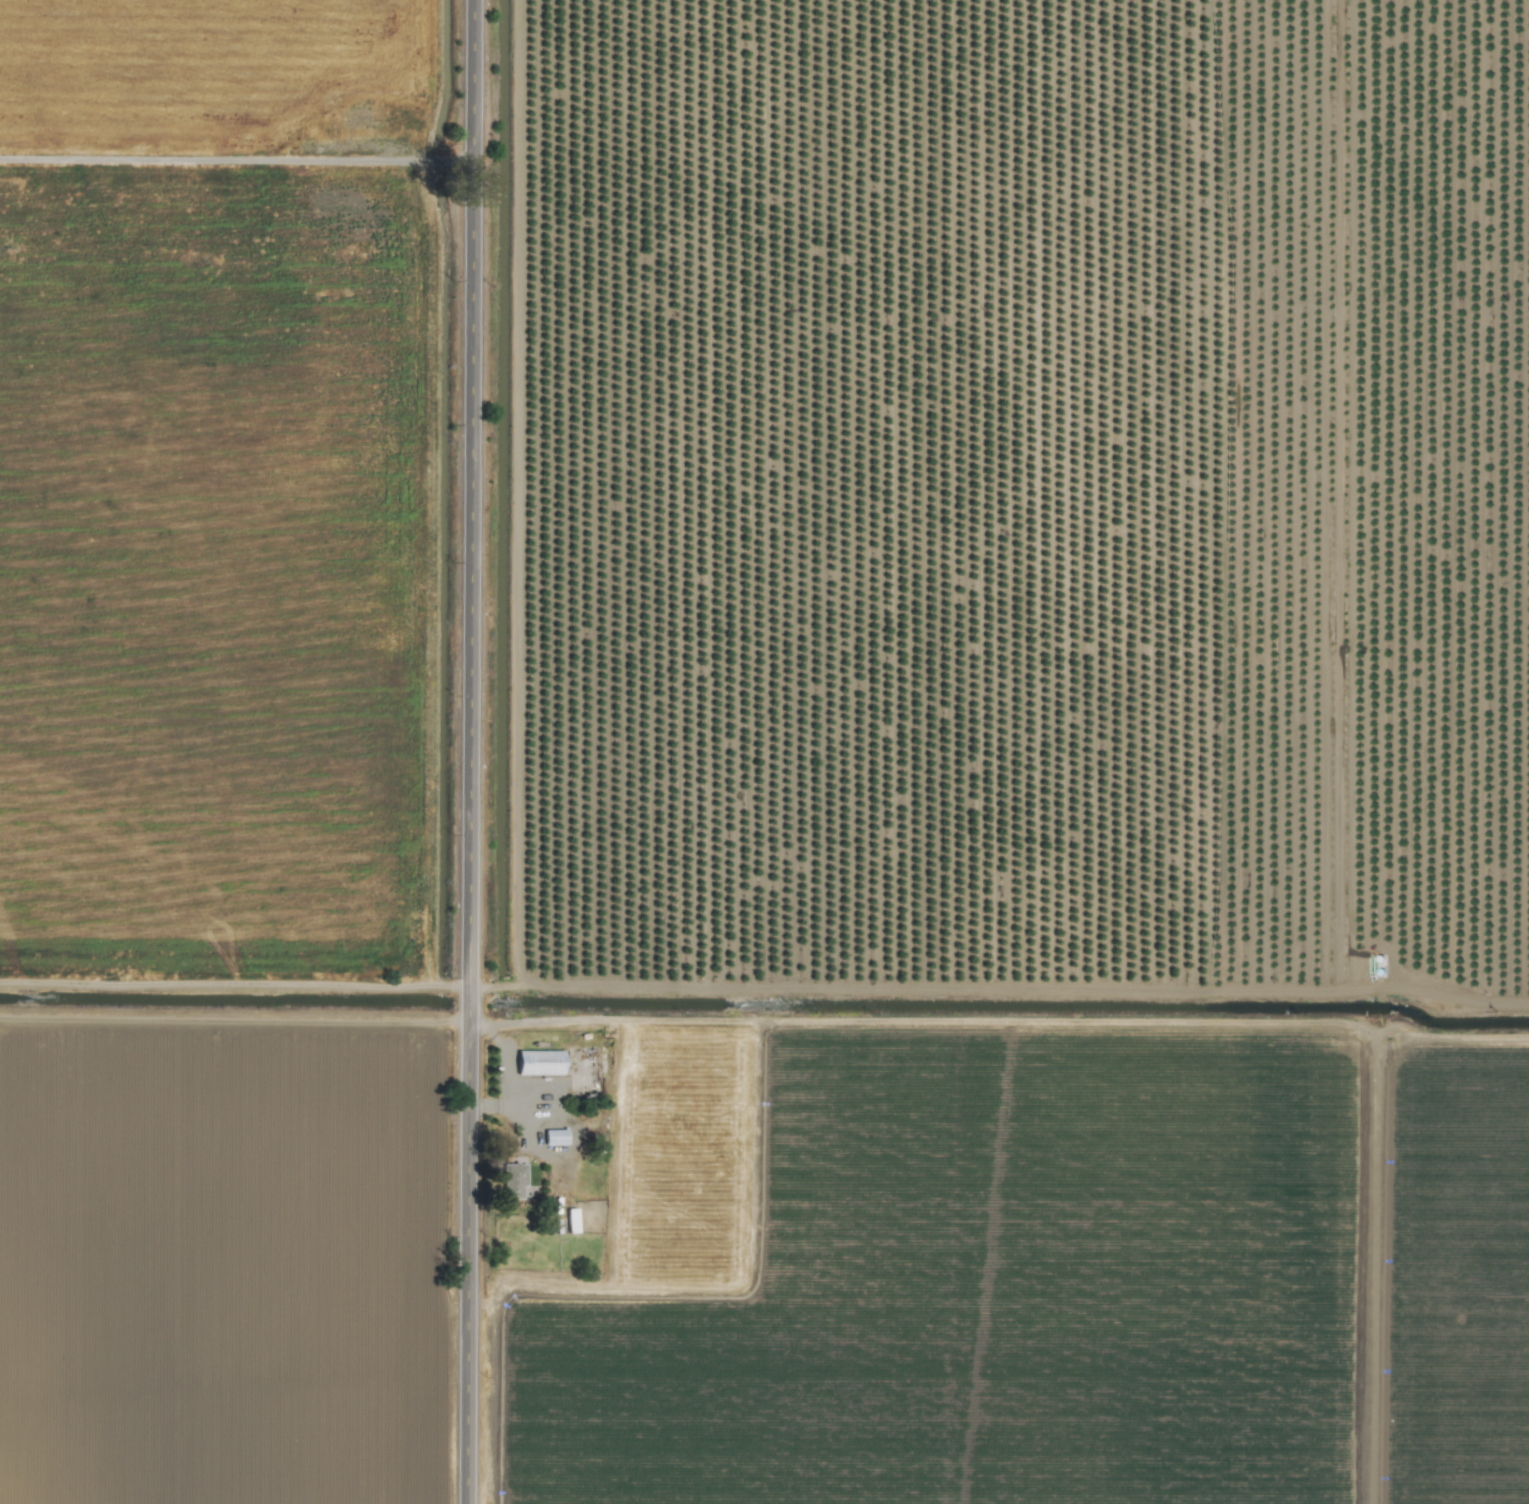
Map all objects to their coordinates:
road: (237, 163)
road: (473, 752)
road: (1000, 988)
building: (539, 1062)
road: (510, 1074)
building: (555, 1136)
building: (513, 1180)

